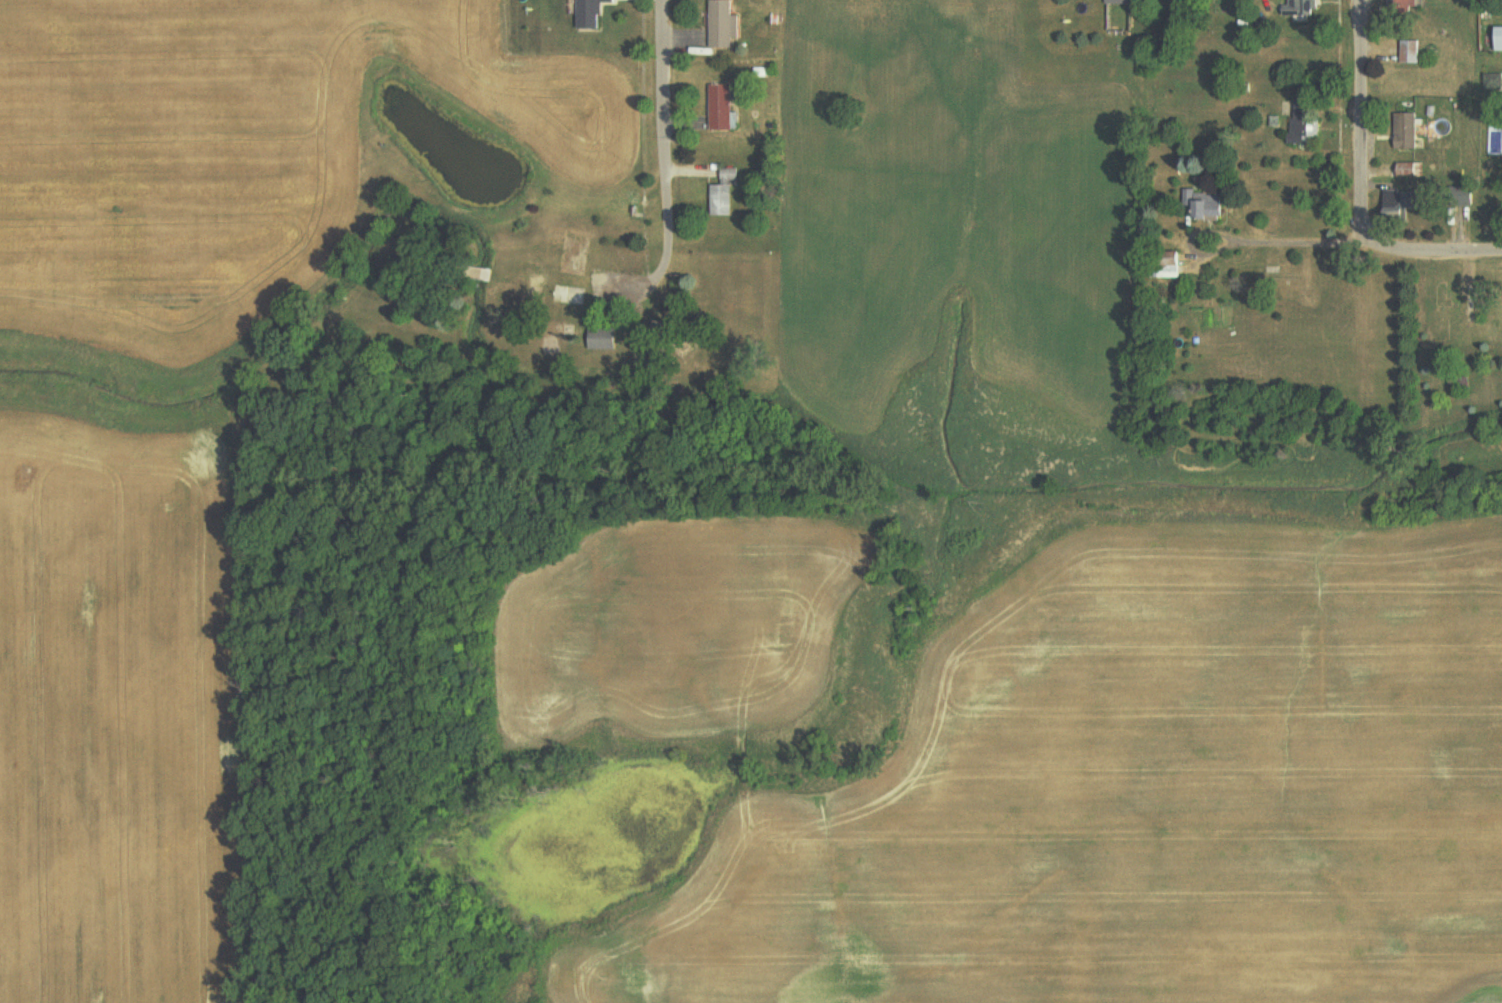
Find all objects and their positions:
building: (1119, 1)
building: (1404, 4)
building: (1301, 7)
building: (591, 13)
building: (723, 24)
building: (1499, 39)
building: (1409, 51)
building: (721, 107)
road: (1360, 111)
building: (1300, 122)
road: (663, 127)
building: (1406, 131)
crop: (236, 150)
building: (1410, 169)
building: (729, 175)
building: (721, 200)
building: (1400, 202)
building: (1205, 205)
road: (1362, 236)
road: (1375, 250)
building: (1169, 265)
building: (603, 338)
crop: (678, 627)
crop: (1143, 794)

